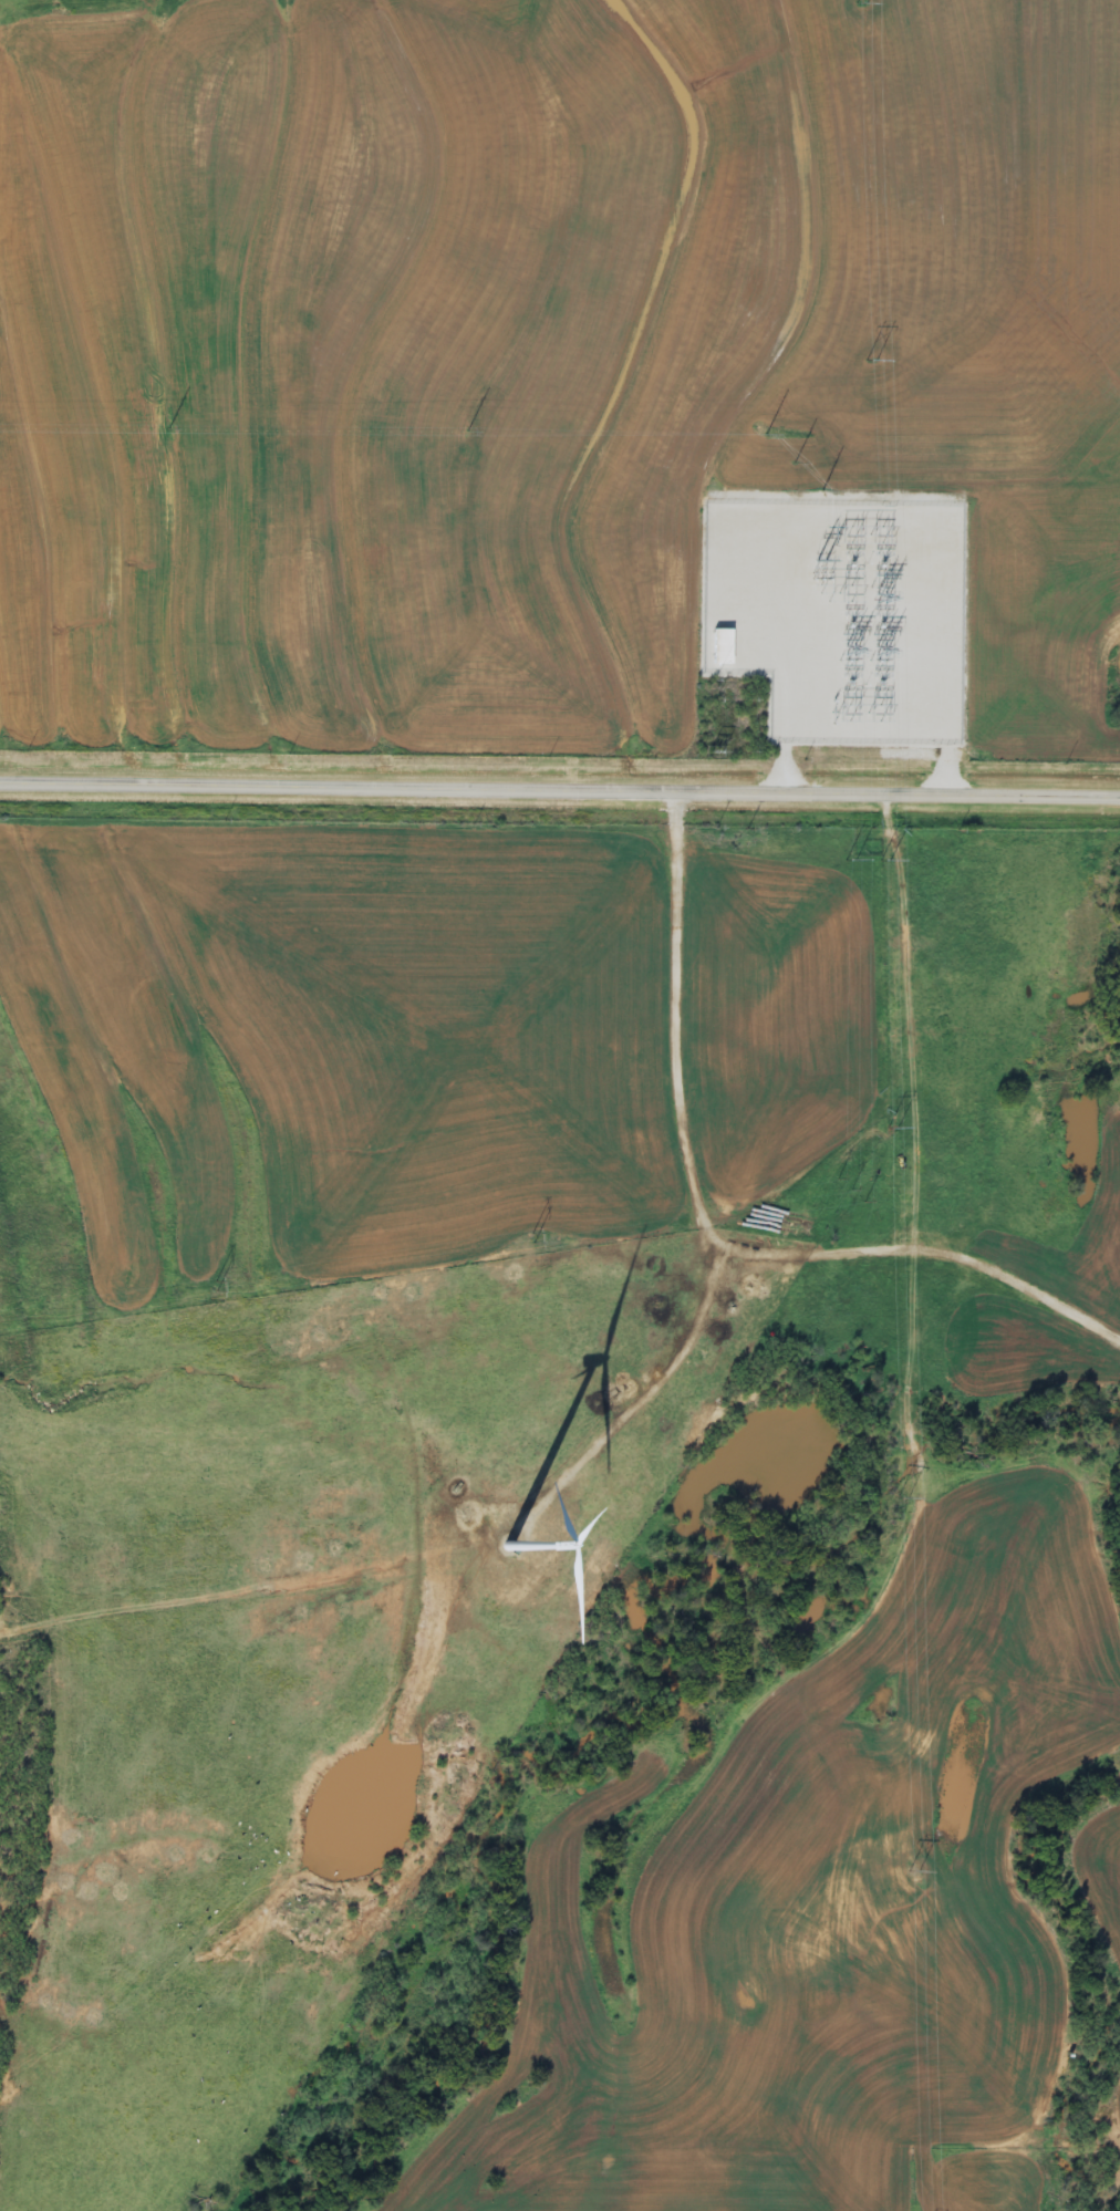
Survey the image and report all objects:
power substation: (843, 608)
road: (560, 787)
wind turbine: (516, 1544)

